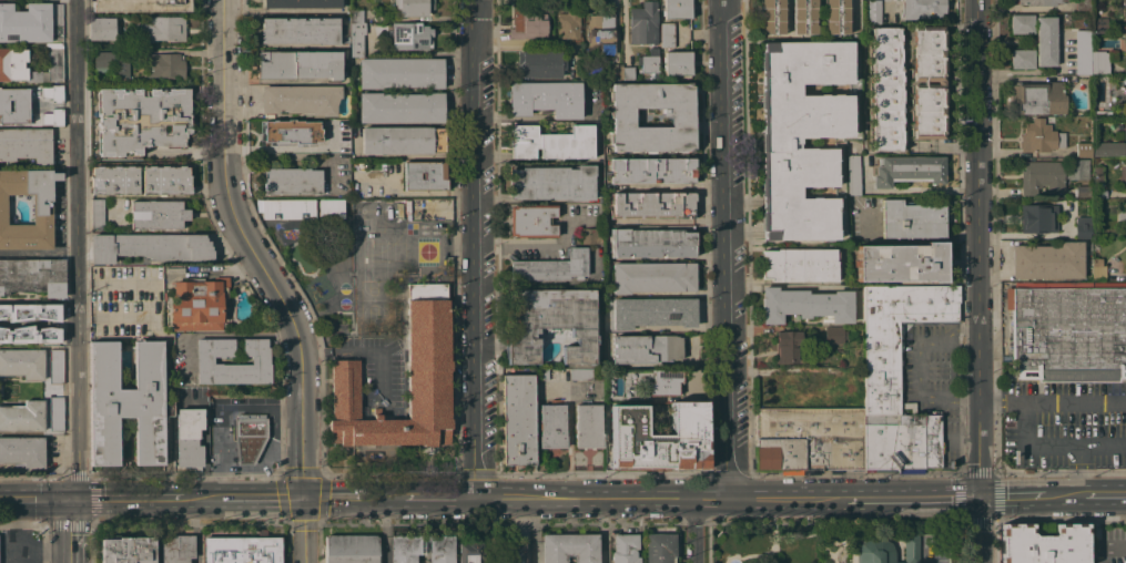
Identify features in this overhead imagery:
building: (1039, 2)
building: (301, 3)
building: (140, 6)
building: (1083, 6)
building: (412, 7)
building: (676, 9)
building: (921, 9)
building: (873, 11)
building: (356, 16)
building: (835, 16)
building: (772, 17)
building: (803, 17)
building: (30, 21)
building: (527, 23)
building: (643, 23)
building: (1022, 23)
building: (568, 24)
building: (1098, 25)
building: (101, 29)
building: (160, 30)
building: (300, 30)
building: (600, 33)
building: (667, 34)
building: (409, 35)
building: (345, 39)
building: (356, 39)
building: (1046, 41)
building: (1088, 55)
building: (1022, 58)
building: (649, 61)
building: (677, 62)
building: (11, 64)
building: (298, 64)
building: (538, 64)
building: (165, 65)
building: (102, 69)
building: (616, 71)
building: (399, 72)
building: (628, 73)
building: (1122, 80)
building: (923, 82)
building: (884, 90)
building: (49, 92)
building: (546, 98)
building: (1037, 98)
building: (1125, 98)
building: (301, 99)
building: (14, 105)
building: (399, 108)
building: (1100, 113)
building: (681, 116)
building: (48, 117)
building: (141, 120)
building: (1125, 129)
building: (291, 131)
building: (596, 133)
building: (1039, 136)
building: (802, 137)
building: (402, 140)
building: (551, 142)
building: (26, 144)
road: (943, 144)
road: (288, 147)
building: (1108, 149)
building: (1083, 150)
road: (183, 151)
building: (1076, 168)
building: (651, 170)
building: (909, 170)
building: (852, 171)
building: (1125, 172)
building: (1097, 174)
building: (424, 175)
building: (1041, 176)
building: (292, 181)
building: (165, 182)
building: (551, 183)
road: (921, 188)
building: (1083, 191)
road: (997, 193)
road: (1028, 193)
road: (1053, 193)
building: (1098, 193)
building: (651, 205)
building: (286, 208)
building: (331, 208)
building: (97, 213)
building: (42, 214)
building: (158, 214)
building: (1122, 215)
building: (1037, 217)
building: (912, 219)
building: (531, 221)
building: (1083, 227)
building: (590, 235)
road: (535, 243)
building: (650, 243)
building: (150, 247)
road: (38, 249)
road: (474, 249)
road: (728, 249)
road: (78, 250)
road: (253, 252)
building: (292, 255)
building: (1047, 260)
building: (901, 262)
building: (799, 265)
building: (551, 267)
building: (1097, 268)
road: (224, 273)
building: (32, 276)
building: (652, 277)
road: (977, 280)
building: (197, 304)
building: (804, 305)
building: (29, 311)
building: (652, 313)
building: (13, 320)
building: (551, 324)
building: (1068, 331)
road: (219, 335)
building: (834, 335)
building: (48, 336)
building: (896, 336)
road: (951, 338)
building: (787, 346)
building: (646, 348)
road: (362, 351)
road: (761, 355)
building: (260, 360)
building: (22, 362)
building: (55, 366)
building: (426, 366)
road: (921, 371)
building: (544, 373)
building: (580, 373)
parking lot: (931, 377)
building: (665, 381)
building: (789, 388)
building: (621, 398)
road: (950, 400)
building: (126, 402)
road: (1052, 403)
road: (217, 411)
building: (934, 412)
building: (55, 413)
building: (22, 417)
building: (517, 420)
parking lot: (1064, 424)
building: (551, 426)
road: (1023, 426)
building: (588, 427)
building: (189, 437)
building: (248, 437)
building: (659, 438)
road: (963, 439)
building: (808, 440)
building: (932, 440)
road: (569, 441)
building: (880, 442)
building: (910, 443)
road: (1077, 444)
building: (22, 451)
road: (1081, 470)
road: (853, 477)
road: (1105, 495)
road: (1012, 497)
road: (1065, 497)
road: (913, 498)
traffic signals: (980, 498)
road: (7, 499)
road: (261, 499)
traffic signals: (302, 499)
road: (575, 499)
road: (42, 500)
road: (125, 500)
road: (202, 500)
traffic signals: (70, 501)
road: (69, 528)
road: (535, 530)
road: (602, 530)
road: (195, 531)
road: (302, 531)
road: (692, 531)
building: (1042, 544)
building: (404, 546)
building: (569, 547)
building: (659, 547)
building: (176, 549)
building: (351, 549)
building: (625, 549)
road: (8, 550)
building: (128, 550)
building: (241, 550)
building: (886, 550)
parking lot: (934, 550)
road: (16, 552)
building: (470, 552)
building: (513, 552)
road: (926, 556)
road: (68, 559)

